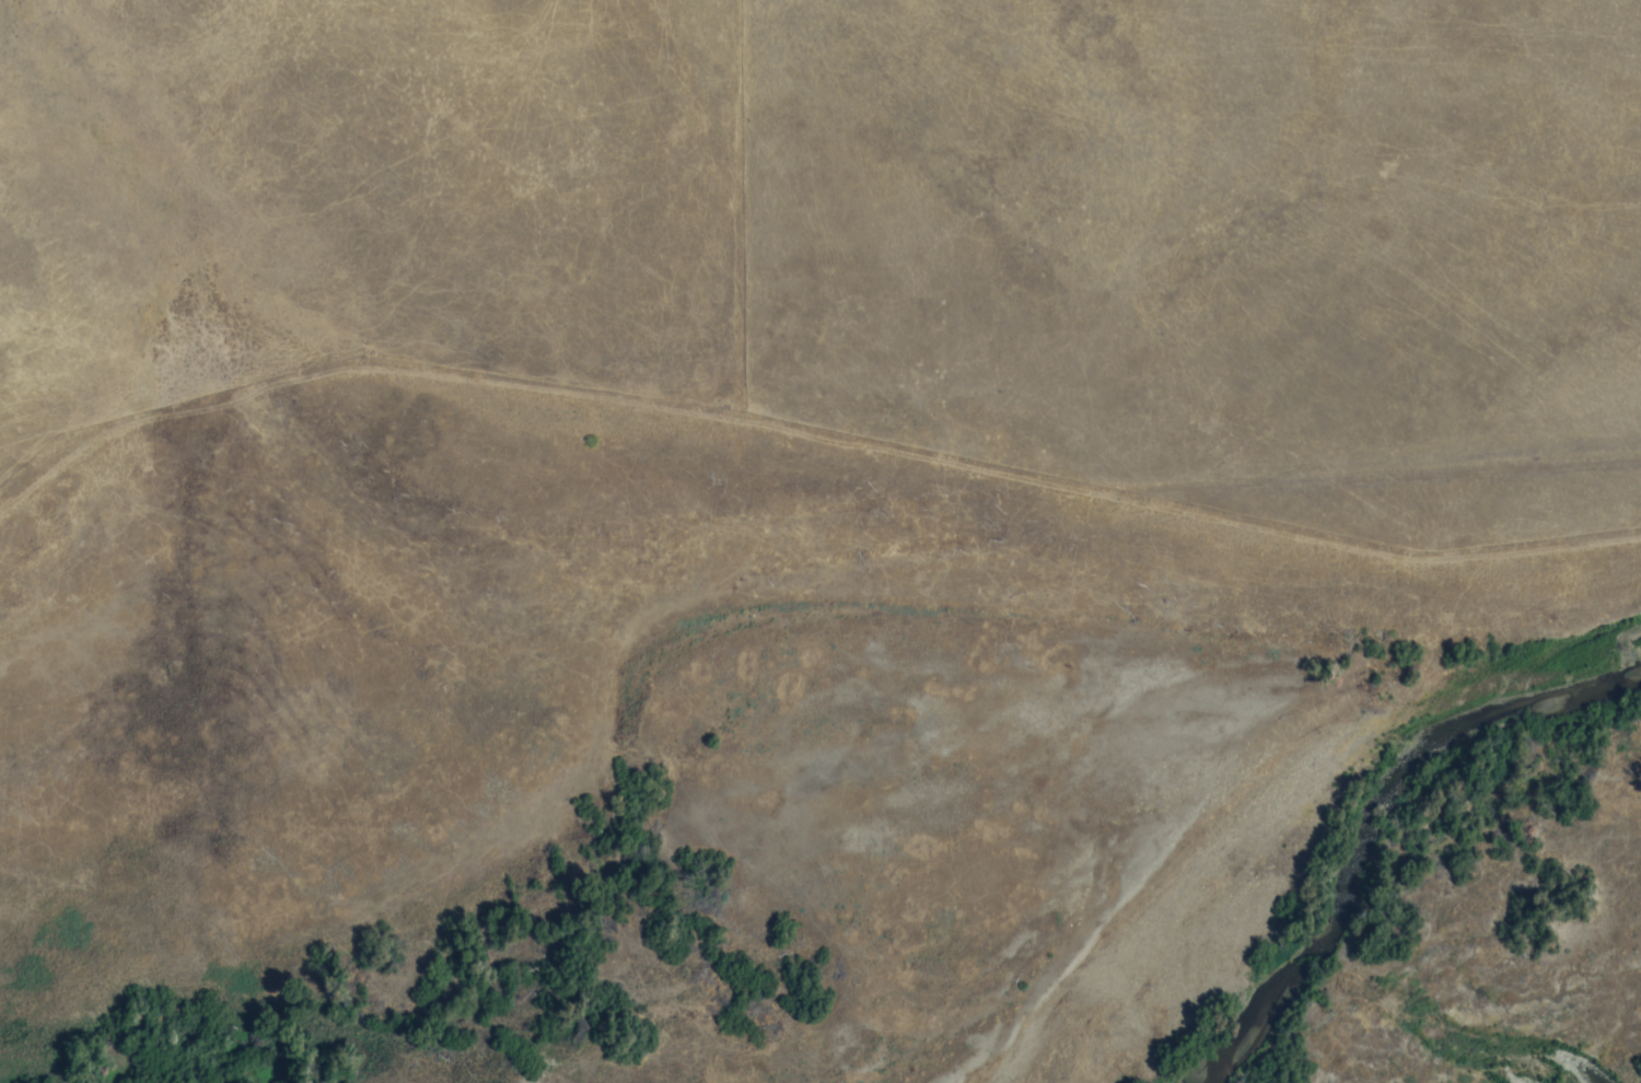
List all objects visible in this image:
river: (1349, 812)

